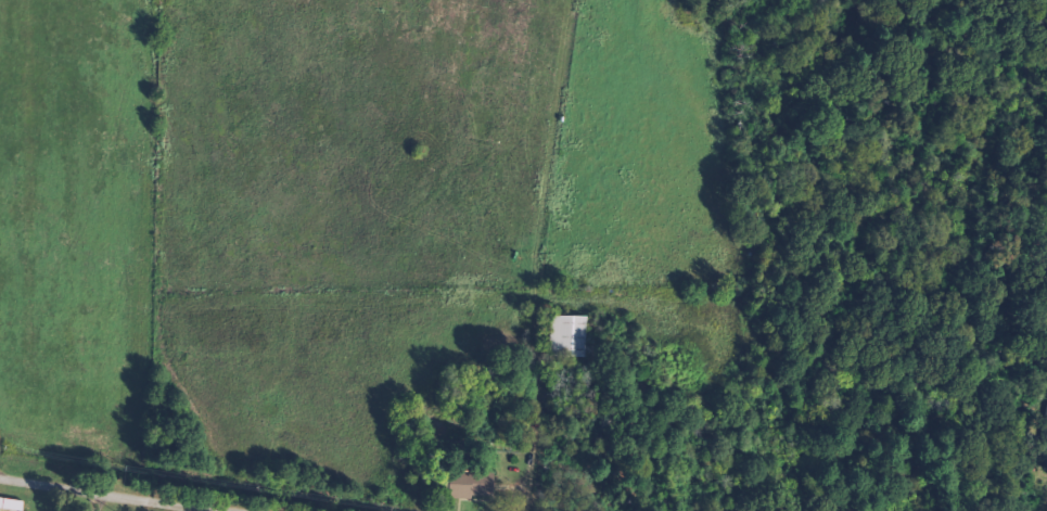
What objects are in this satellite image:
building: (571, 335)
building: (473, 485)
road: (99, 495)

